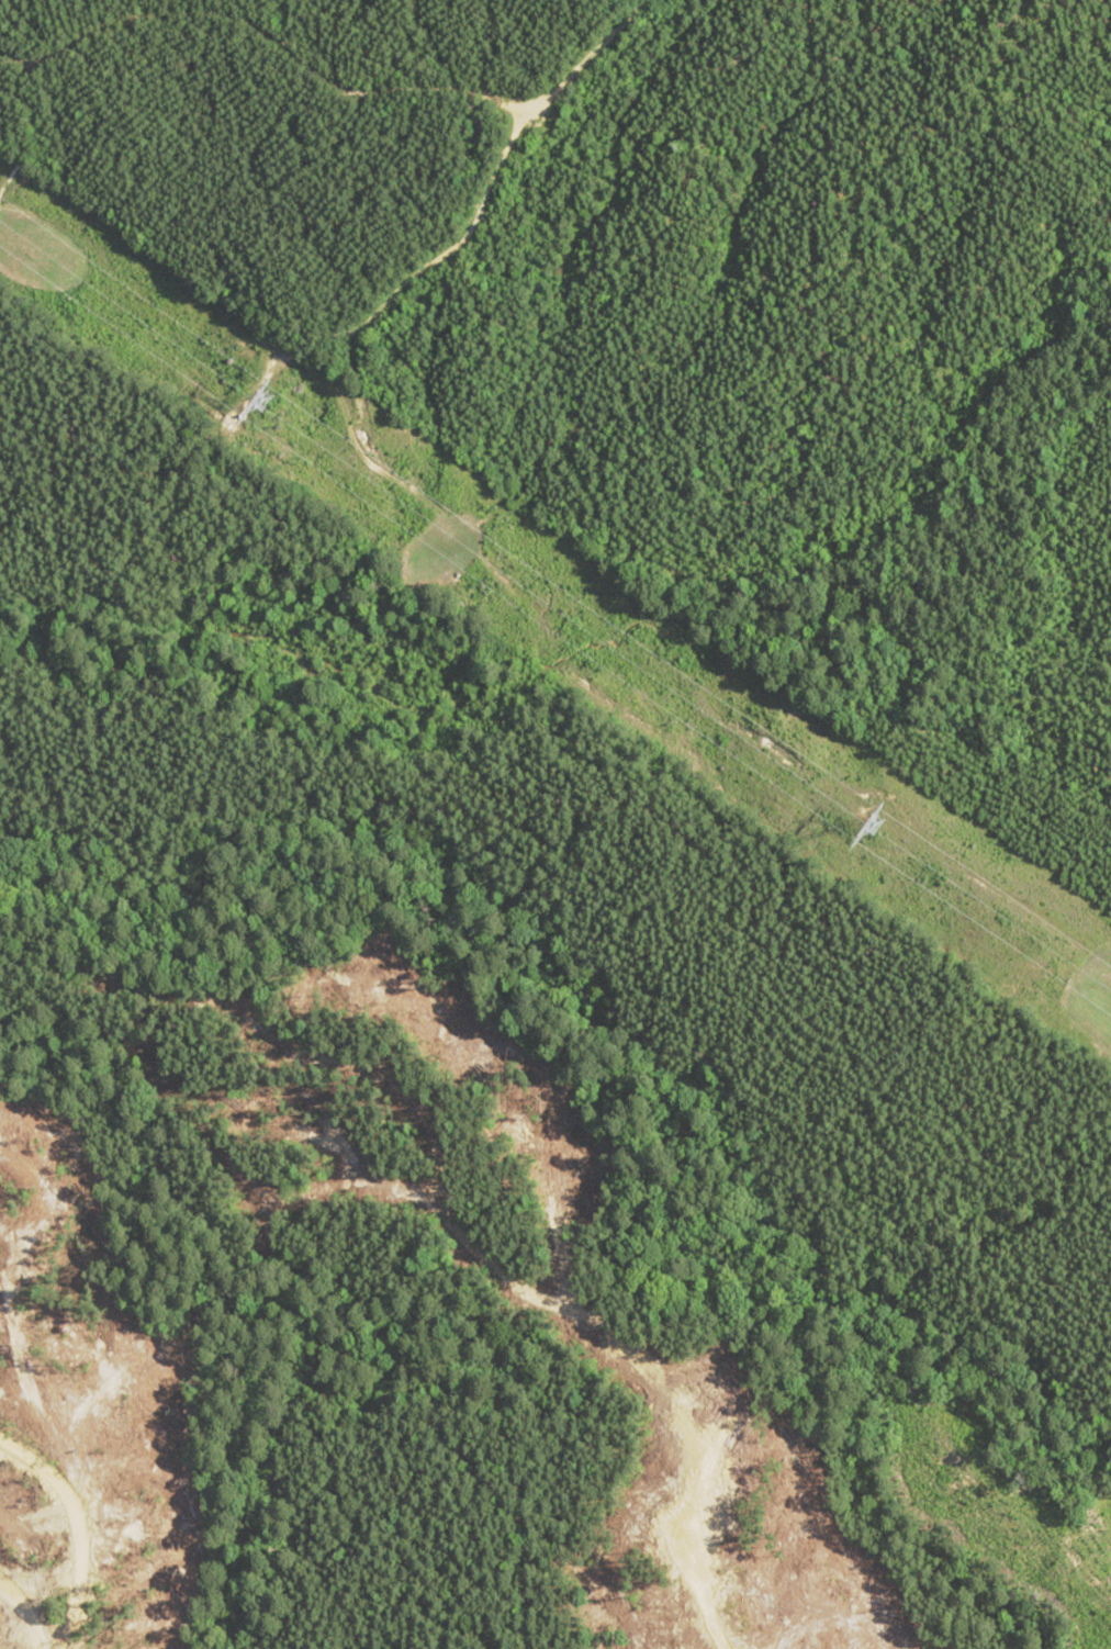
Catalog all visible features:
power tower: (273, 402)
power tower: (884, 828)
road: (52, 1572)

